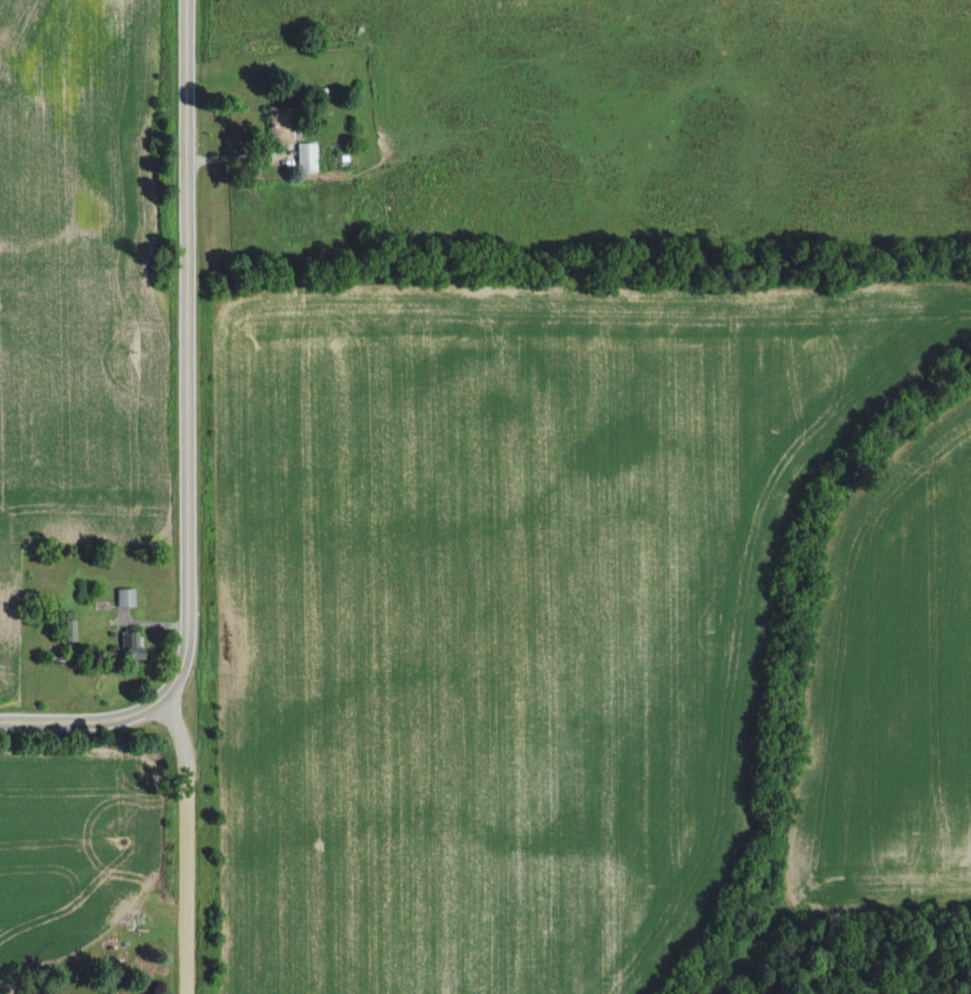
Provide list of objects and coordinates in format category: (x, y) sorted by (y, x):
building: (275, 134)
building: (301, 158)
road: (187, 339)
building: (126, 599)
building: (133, 646)
road: (166, 698)
road: (96, 716)
road: (185, 835)

